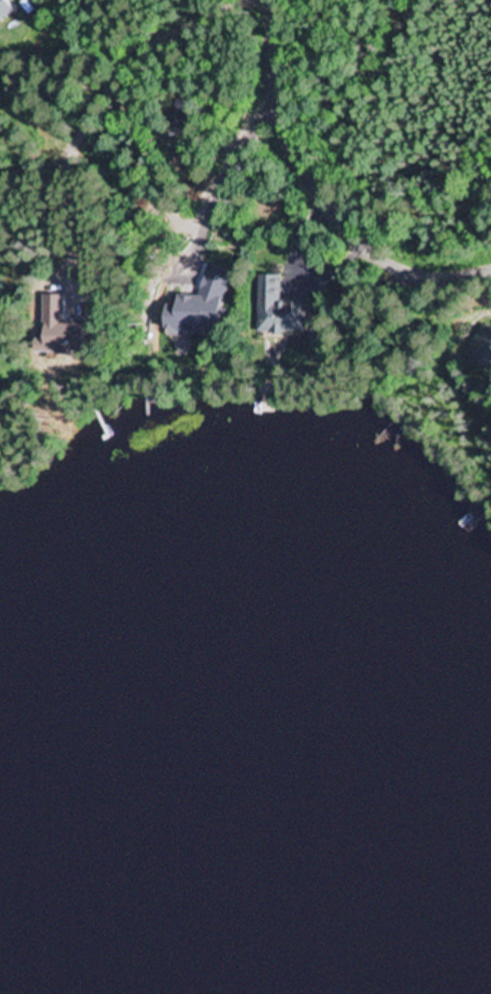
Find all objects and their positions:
building: (4, 10)
road: (321, 194)
building: (274, 310)
building: (481, 349)

